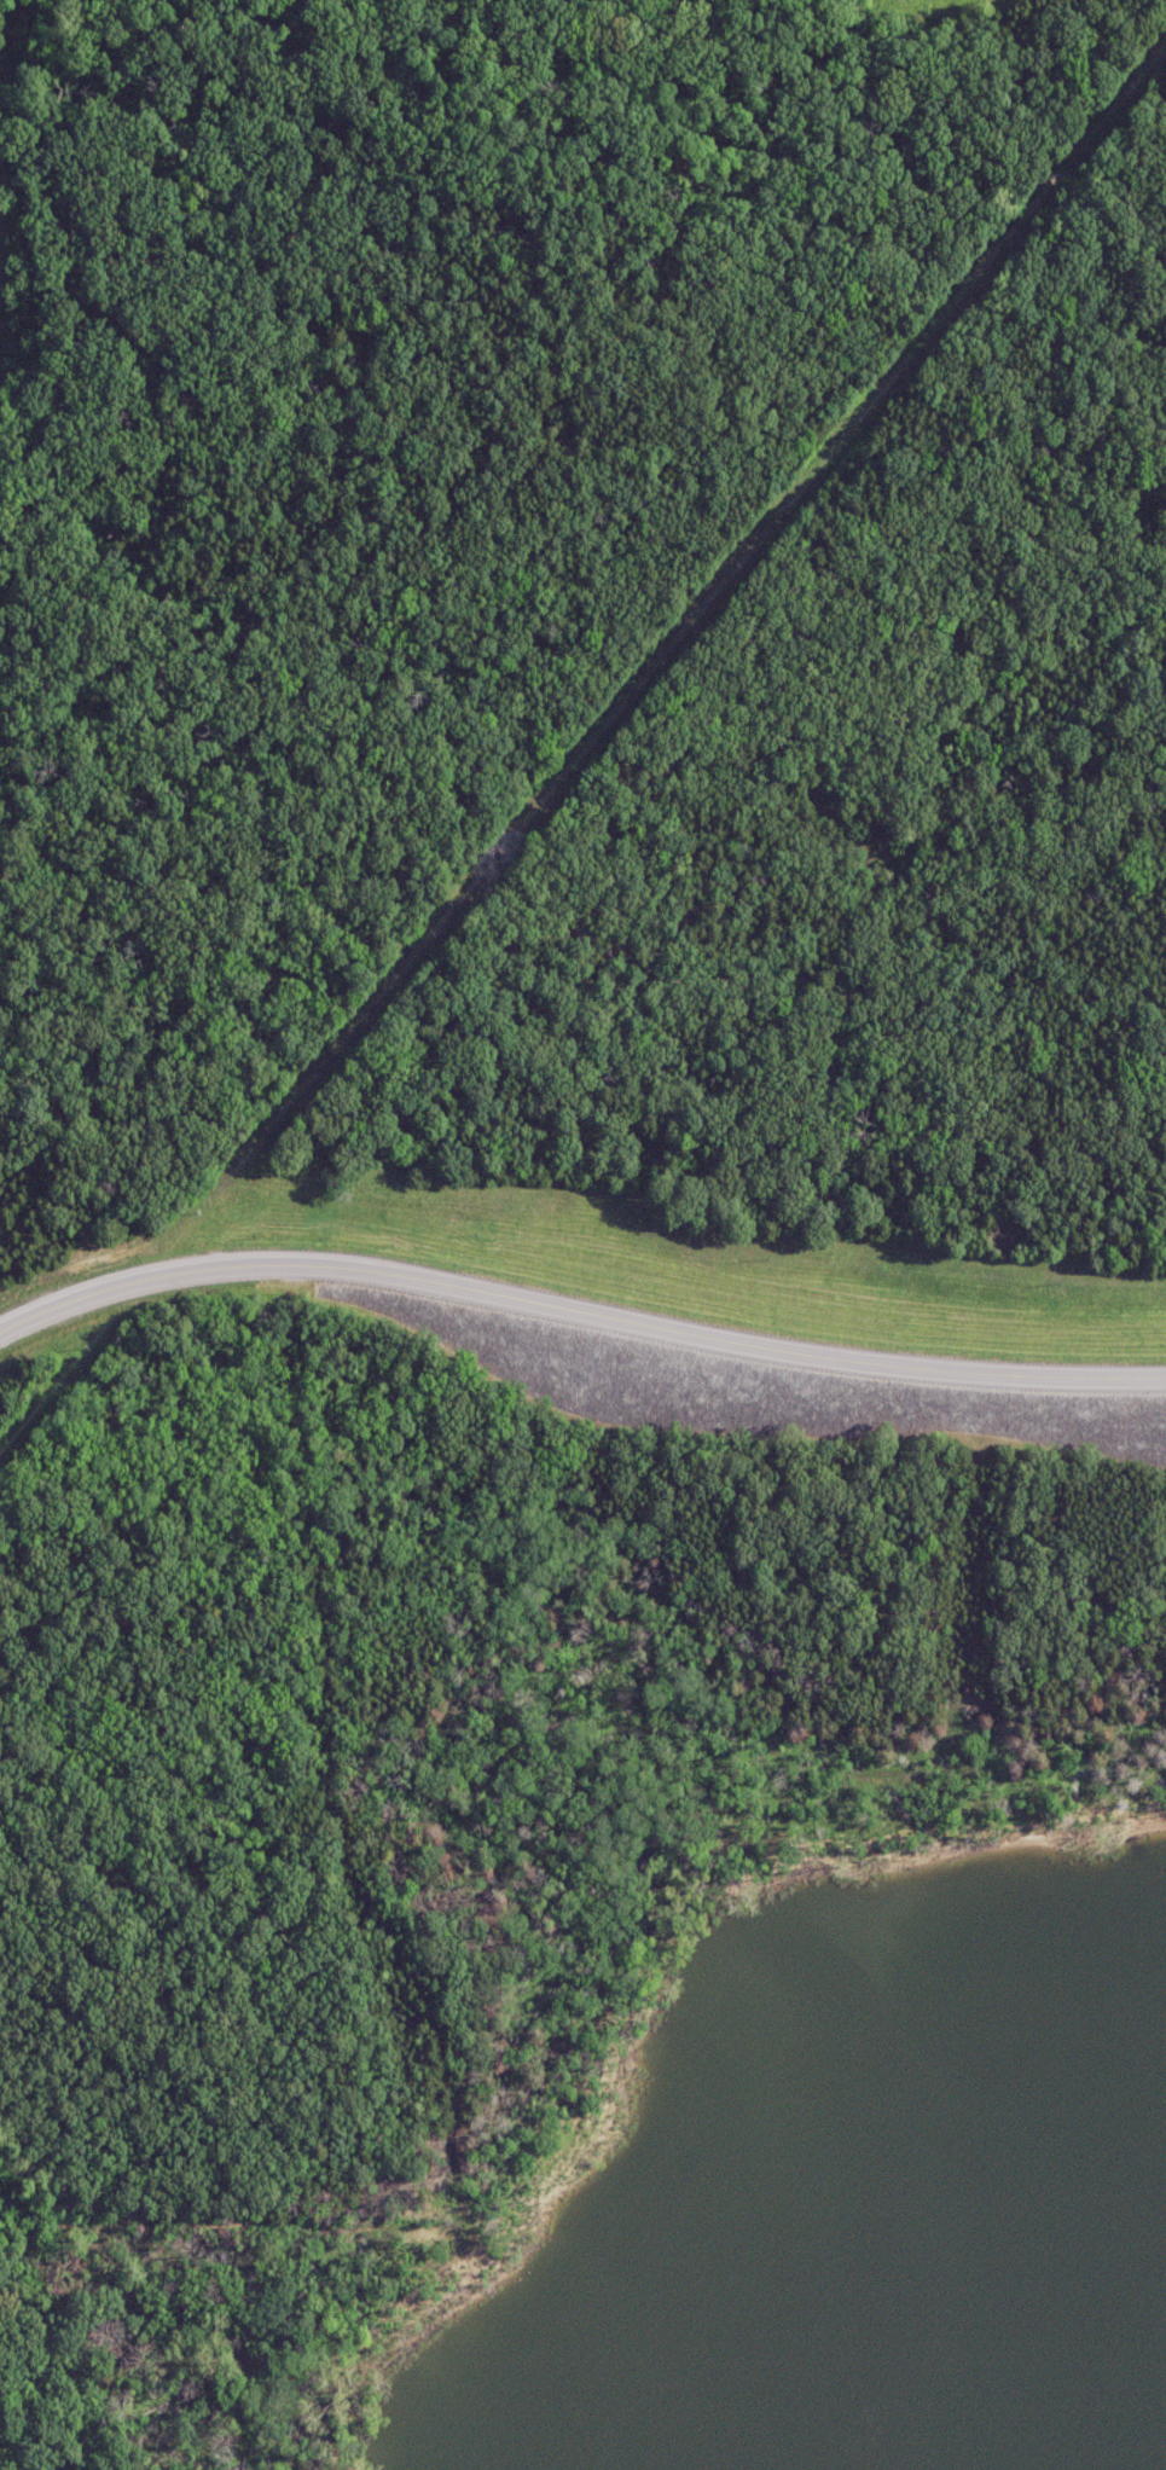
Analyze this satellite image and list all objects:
road: (579, 1317)

